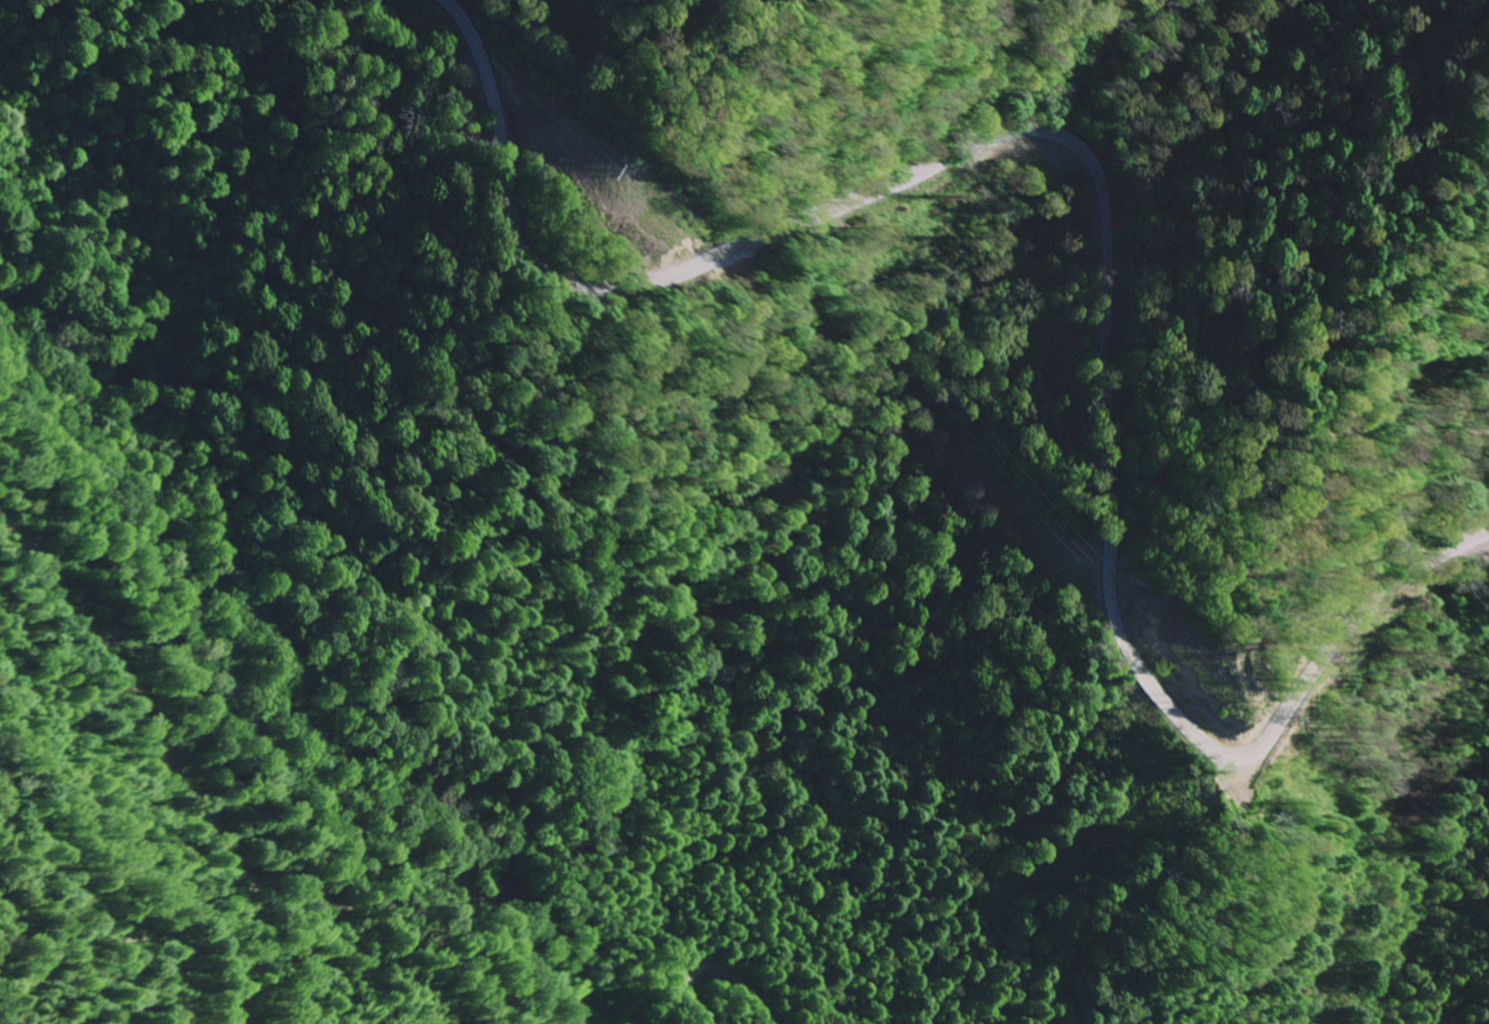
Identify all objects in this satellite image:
road: (490, 136)
road: (1100, 368)

